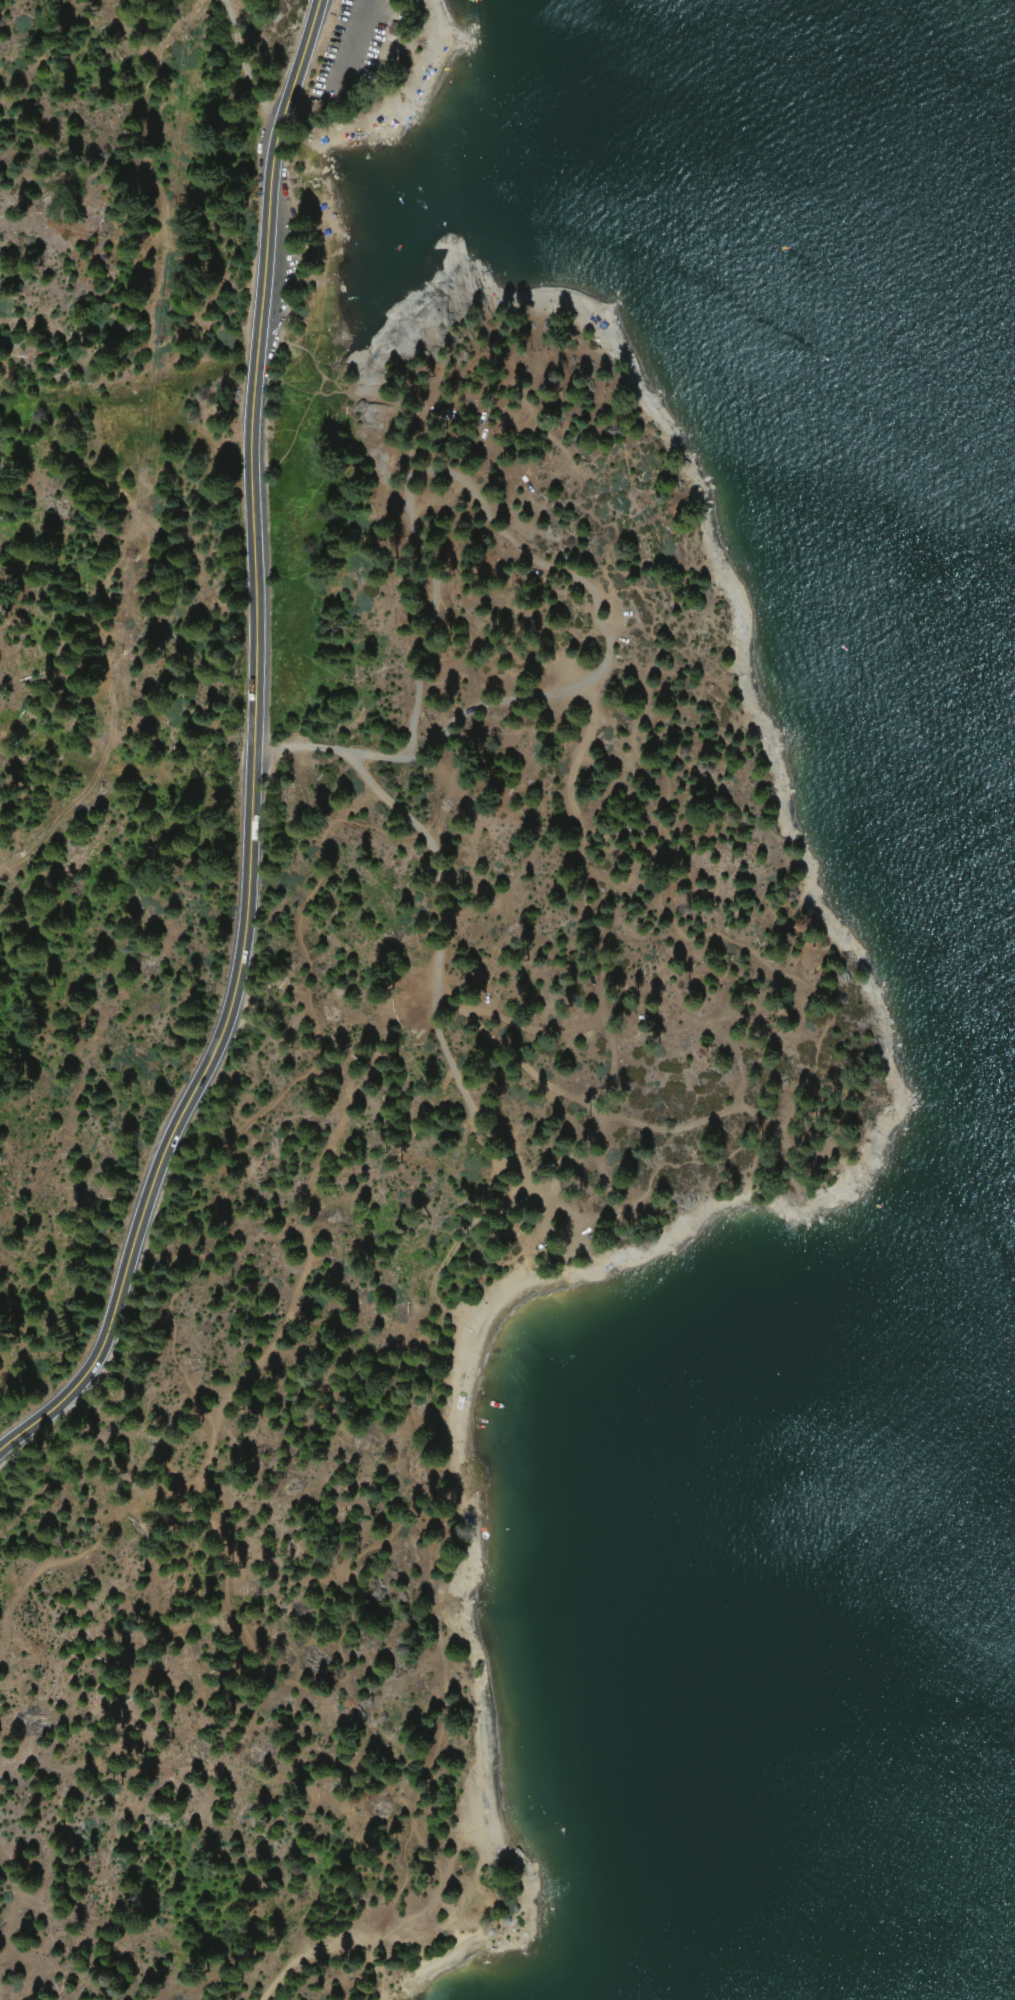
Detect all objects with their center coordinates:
road: (347, 40)
road: (240, 48)
road: (464, 716)
road: (249, 752)
road: (349, 763)
road: (433, 813)
road: (580, 880)
road: (786, 1105)
road: (330, 1942)

